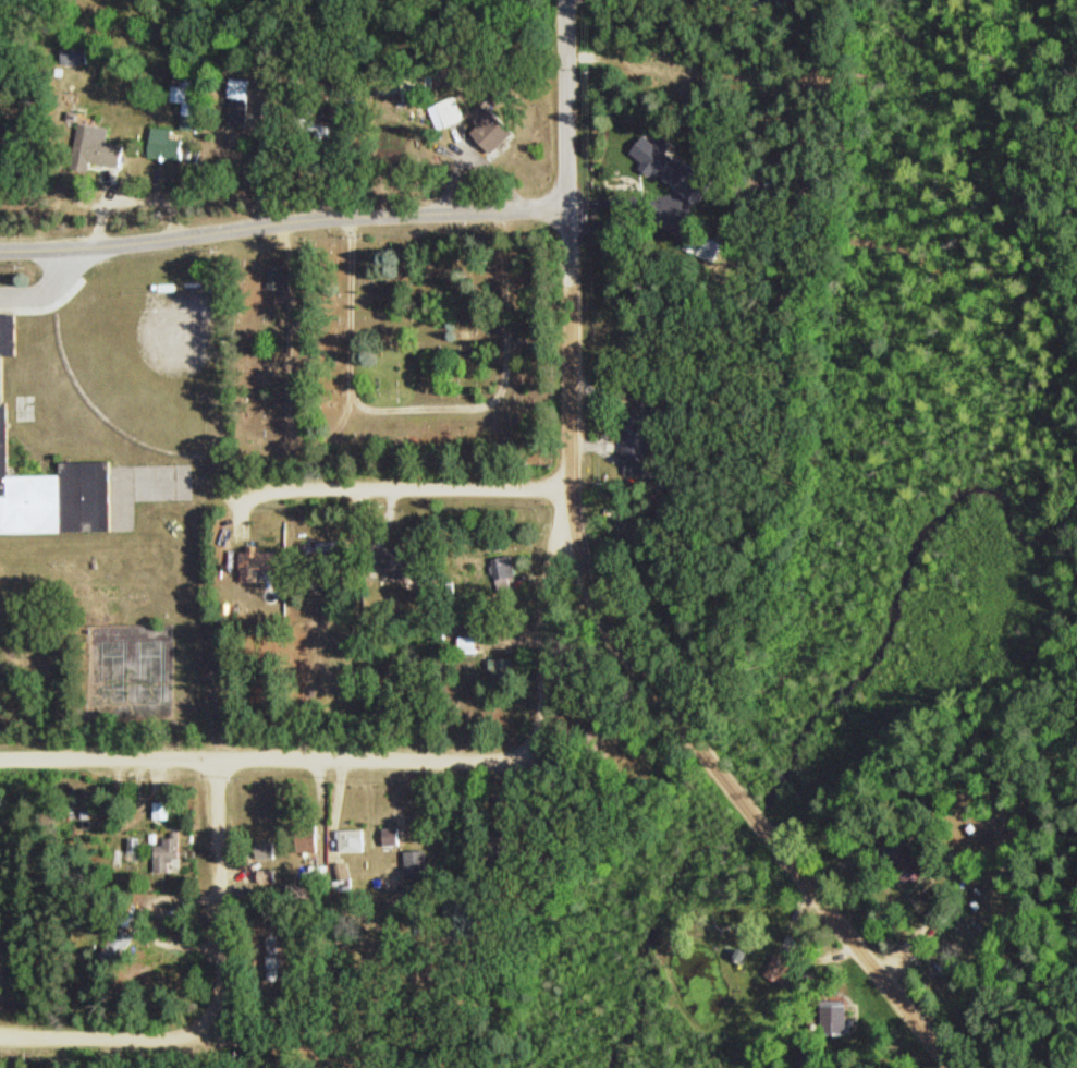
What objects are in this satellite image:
building: (185, 88)
building: (240, 101)
road: (567, 104)
building: (494, 128)
building: (166, 142)
building: (101, 146)
road: (284, 223)
building: (700, 242)
building: (629, 328)
park: (395, 348)
road: (432, 405)
building: (4, 413)
building: (649, 418)
road: (402, 488)
building: (321, 546)
building: (260, 559)
building: (507, 572)
building: (472, 643)
building: (504, 668)
road: (648, 678)
road: (380, 760)
building: (164, 810)
building: (394, 836)
building: (357, 838)
building: (311, 839)
building: (269, 847)
building: (169, 855)
building: (419, 862)
building: (318, 873)
road: (219, 898)
building: (944, 910)
building: (474, 918)
building: (120, 944)
building: (276, 958)
building: (780, 967)
building: (837, 1018)
road: (99, 1034)

